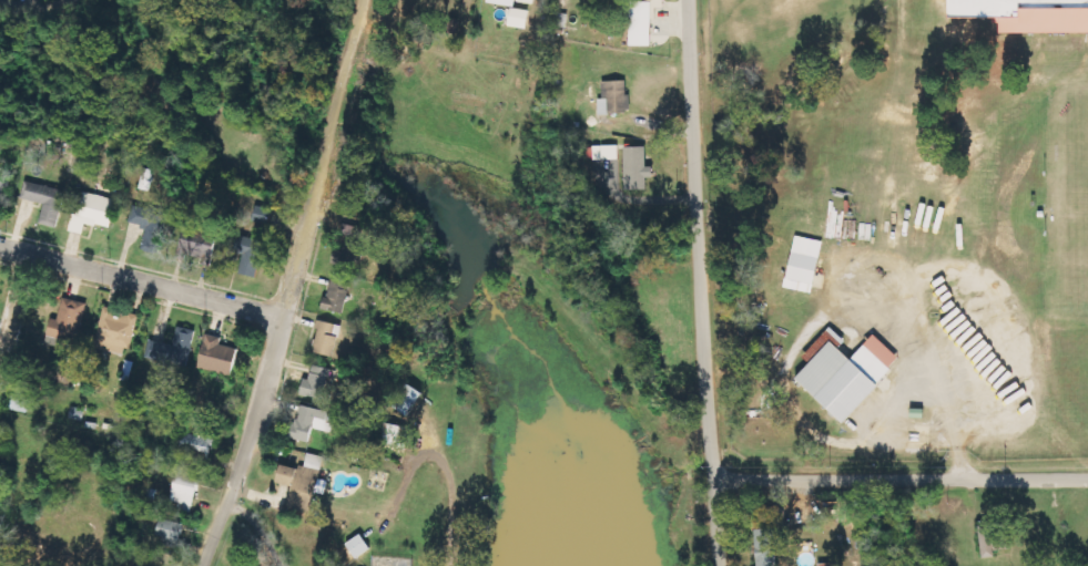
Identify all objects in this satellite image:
building: (504, 2)
building: (527, 2)
road: (37, 11)
building: (1030, 14)
building: (520, 19)
building: (640, 21)
building: (614, 97)
building: (610, 152)
building: (638, 168)
building: (3, 185)
building: (47, 202)
building: (93, 213)
building: (151, 227)
building: (353, 231)
building: (199, 245)
building: (251, 255)
building: (805, 265)
road: (140, 281)
road: (695, 282)
road: (287, 286)
road: (10, 291)
building: (337, 296)
building: (69, 321)
building: (118, 331)
building: (327, 339)
building: (173, 349)
building: (217, 356)
building: (846, 372)
building: (317, 383)
building: (406, 399)
building: (19, 404)
building: (311, 423)
building: (397, 434)
building: (199, 445)
road: (898, 476)
building: (302, 484)
building: (184, 491)
building: (170, 533)
building: (990, 541)
building: (358, 546)
building: (766, 547)

